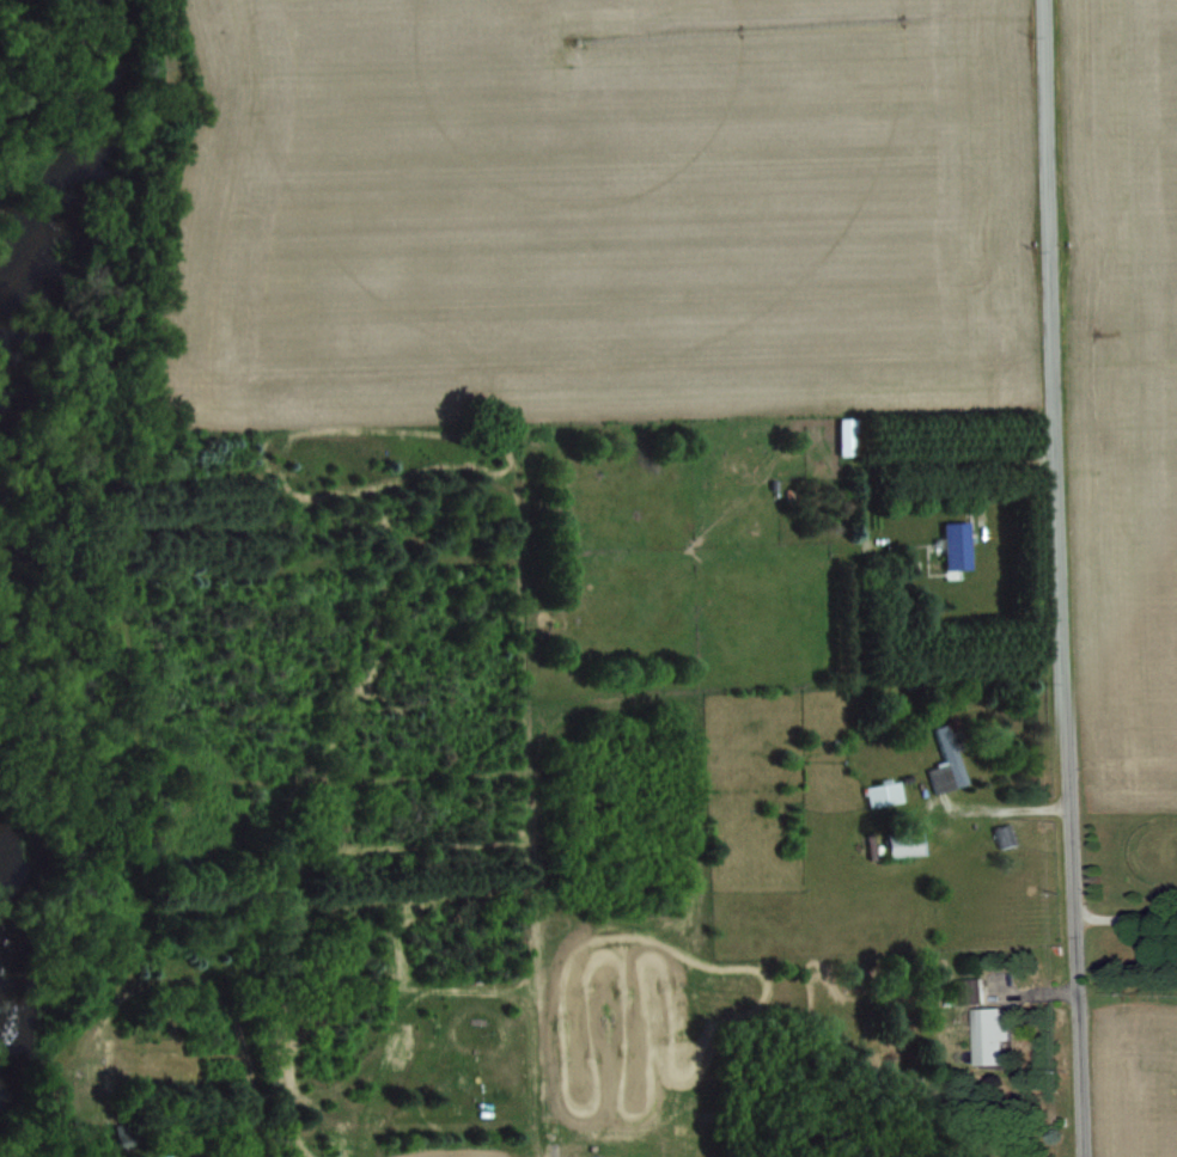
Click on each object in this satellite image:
river: (89, 143)
building: (849, 434)
building: (956, 545)
road: (1062, 578)
building: (947, 763)
building: (886, 794)
building: (1005, 834)
road: (1126, 912)
building: (969, 990)
building: (994, 1034)
building: (111, 1057)

